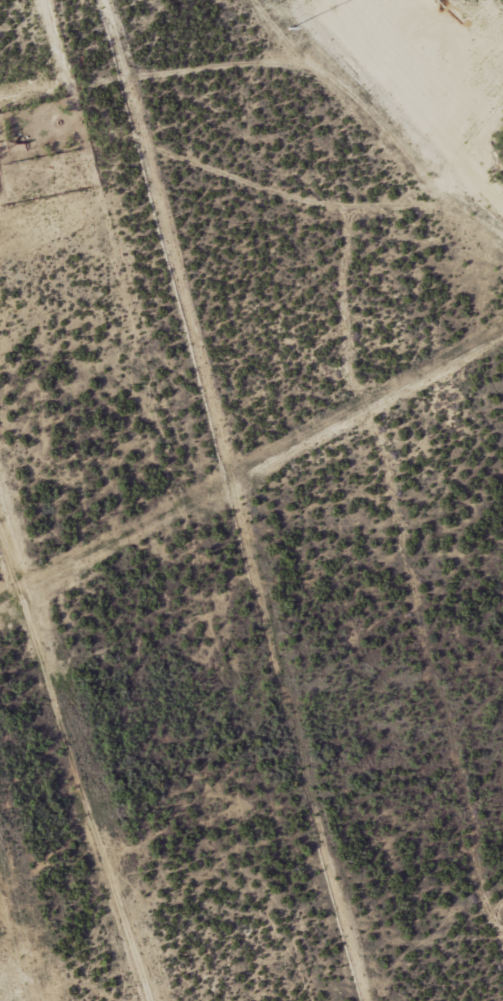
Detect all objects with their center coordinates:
power tower: (290, 29)
road: (246, 36)
road: (264, 83)

